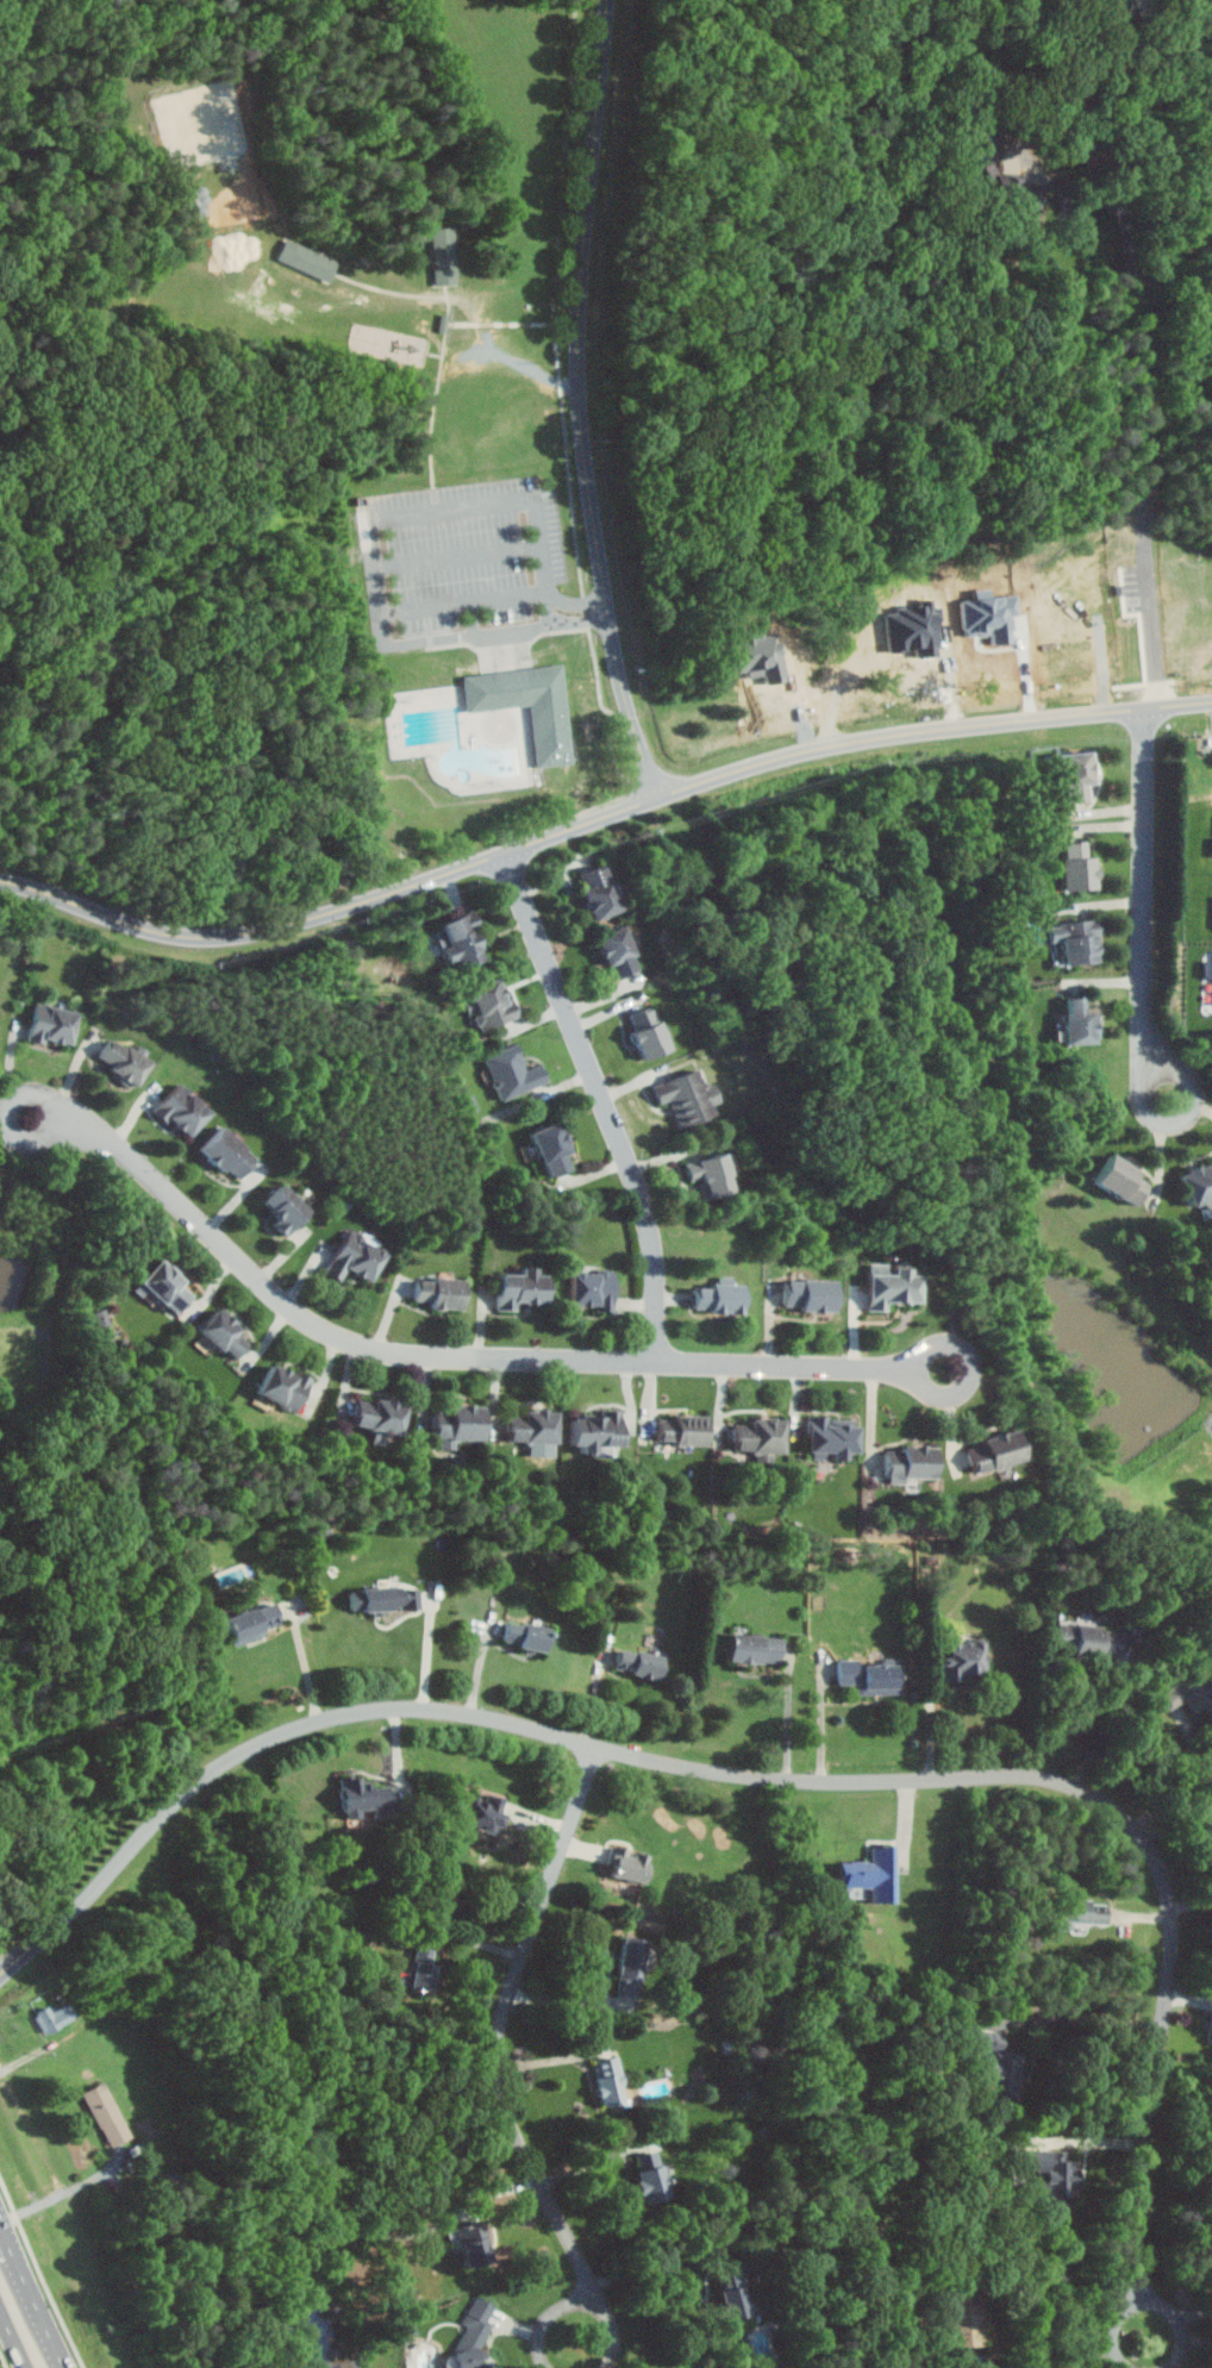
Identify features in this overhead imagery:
building: (981, 148)
building: (449, 256)
building: (312, 260)
park: (513, 377)
road: (1132, 399)
road: (581, 402)
road: (175, 500)
road: (373, 548)
road: (458, 551)
parking lot: (470, 567)
road: (464, 598)
road: (579, 600)
road: (582, 618)
building: (530, 705)
building: (1083, 775)
road: (599, 818)
building: (1086, 866)
building: (606, 893)
road: (1147, 905)
building: (469, 941)
building: (1081, 942)
building: (626, 952)
building: (495, 1004)
building: (1087, 1023)
building: (58, 1025)
building: (655, 1032)
building: (130, 1061)
building: (519, 1071)
building: (693, 1096)
road: (605, 1100)
building: (188, 1110)
building: (560, 1149)
building: (235, 1154)
building: (720, 1175)
building: (1126, 1176)
building: (1199, 1181)
building: (292, 1211)
building: (362, 1258)
building: (171, 1286)
building: (900, 1287)
building: (527, 1289)
building: (600, 1289)
building: (445, 1293)
building: (817, 1295)
building: (726, 1299)
building: (231, 1335)
road: (523, 1356)
building: (289, 1387)
building: (386, 1418)
building: (464, 1424)
building: (539, 1426)
building: (689, 1430)
building: (604, 1431)
building: (767, 1436)
building: (841, 1439)
building: (987, 1452)
building: (911, 1463)
building: (387, 1599)
building: (250, 1623)
building: (523, 1635)
building: (1089, 1639)
building: (752, 1649)
road: (430, 1651)
building: (963, 1658)
building: (637, 1663)
road: (310, 1667)
building: (870, 1676)
building: (1182, 1692)
road: (1113, 1718)
road: (933, 1722)
road: (764, 1777)
road: (1181, 1783)
building: (362, 1797)
building: (483, 1806)
building: (626, 1864)
building: (870, 1874)
road: (1192, 1904)
building: (1077, 1911)
building: (629, 1967)
building: (421, 1969)
building: (51, 2017)
road: (1079, 2020)
road: (502, 2024)
building: (1000, 2068)
building: (608, 2078)
building: (105, 2111)
road: (593, 2162)
building: (1050, 2173)
building: (650, 2174)
road: (1175, 2207)
building: (473, 2241)
road: (19, 2261)
road: (657, 2262)
building: (730, 2289)
road: (550, 2318)
building: (964, 2319)
road: (1183, 2324)
road: (1116, 2329)
road: (613, 2331)
road: (54, 2335)
road: (14, 2336)
building: (475, 2337)
road: (1199, 2341)
road: (1101, 2354)
road: (981, 2367)

